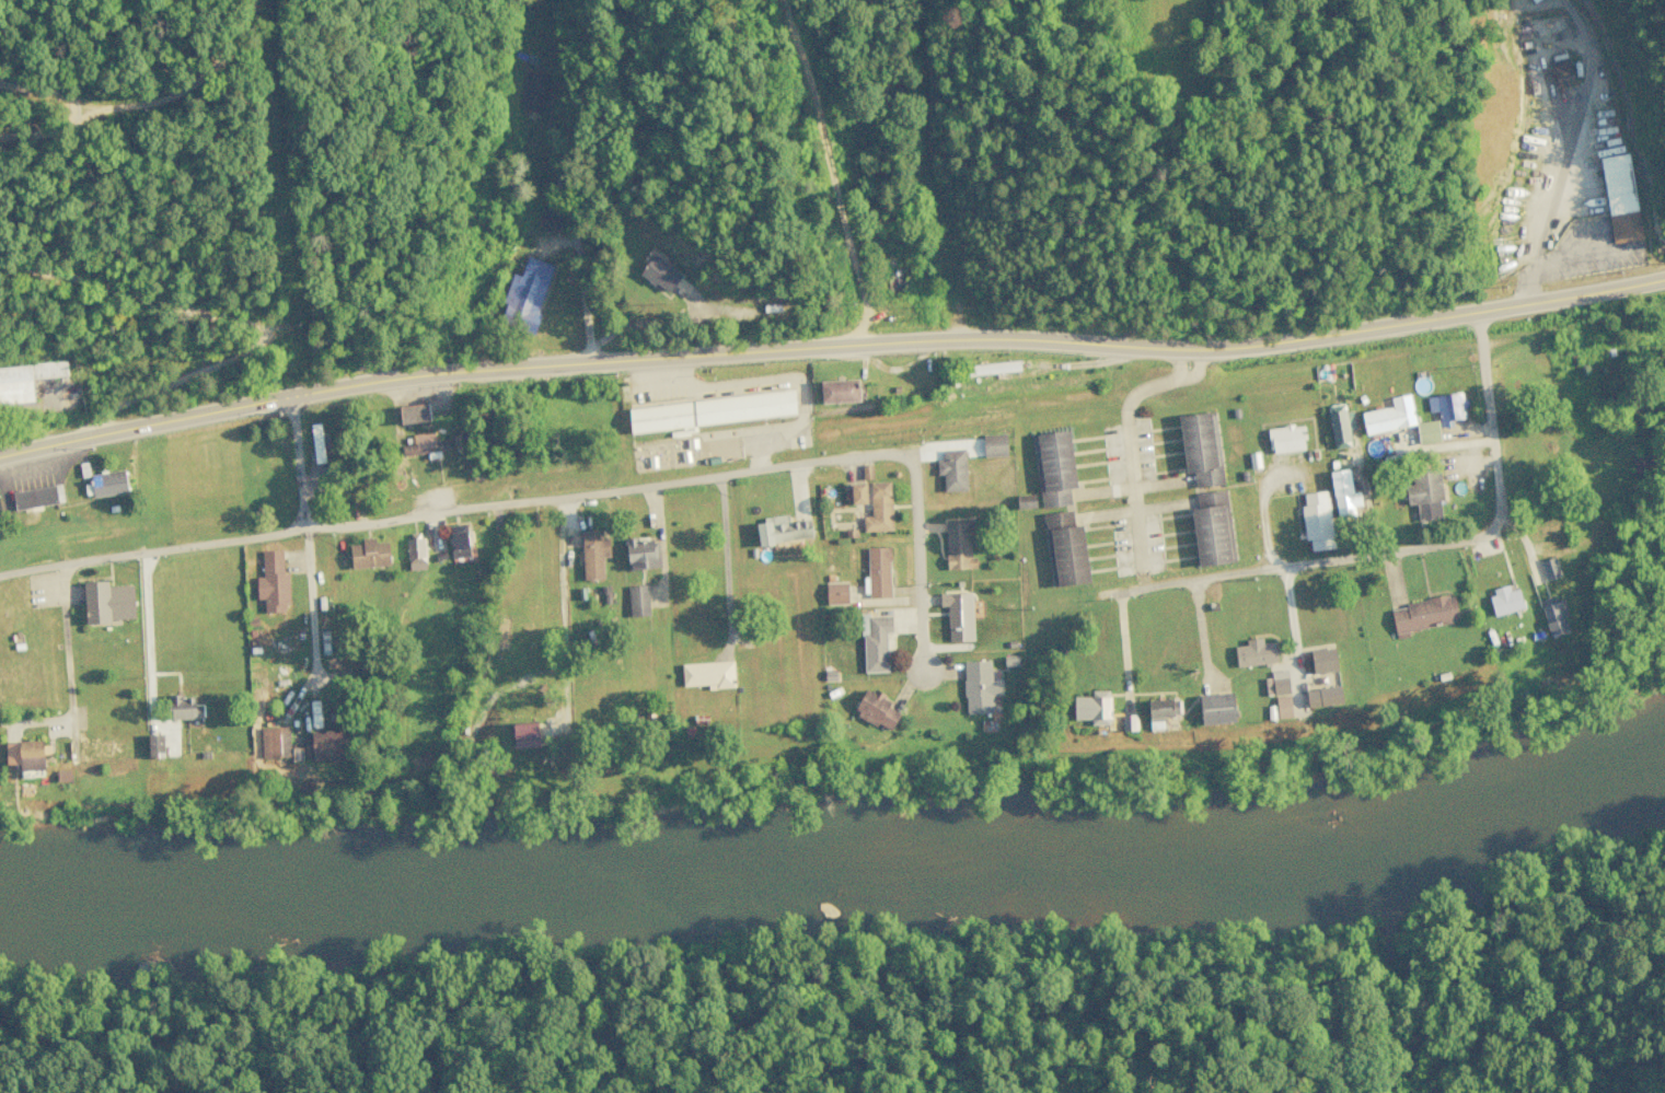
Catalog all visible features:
building: (1533, 0)
building: (1562, 71)
building: (534, 92)
road: (1600, 147)
road: (123, 182)
road: (1326, 190)
building: (1620, 197)
road: (571, 242)
building: (660, 274)
building: (525, 294)
road: (643, 325)
road: (981, 338)
building: (25, 380)
building: (840, 391)
road: (1439, 403)
building: (1447, 407)
building: (712, 410)
building: (1389, 415)
road: (143, 426)
building: (1340, 427)
building: (1427, 431)
road: (1129, 439)
building: (1286, 439)
building: (1407, 441)
building: (994, 444)
building: (425, 447)
building: (1200, 447)
building: (1642, 465)
building: (1054, 467)
building: (952, 469)
building: (108, 482)
building: (858, 492)
building: (1425, 493)
building: (1343, 495)
building: (34, 497)
road: (562, 499)
building: (1025, 501)
building: (879, 508)
road: (1398, 516)
building: (1317, 520)
building: (1212, 528)
building: (782, 530)
road: (307, 536)
road: (564, 542)
building: (960, 543)
building: (459, 544)
building: (1065, 549)
building: (369, 554)
building: (415, 554)
building: (593, 554)
building: (643, 554)
road: (728, 566)
building: (1549, 568)
building: (878, 571)
road: (1354, 575)
building: (273, 582)
building: (835, 592)
building: (1505, 600)
building: (638, 601)
building: (107, 602)
building: (1423, 614)
building: (958, 615)
building: (1553, 615)
building: (875, 642)
building: (1254, 652)
building: (1323, 660)
road: (1295, 663)
building: (708, 674)
building: (1280, 682)
building: (978, 686)
building: (1323, 696)
building: (1283, 706)
building: (181, 707)
building: (1092, 707)
building: (1216, 708)
building: (876, 709)
building: (1159, 711)
building: (1129, 722)
building: (525, 734)
building: (275, 743)
building: (327, 744)
building: (154, 745)
building: (25, 755)
river: (841, 858)
railway: (837, 1012)

